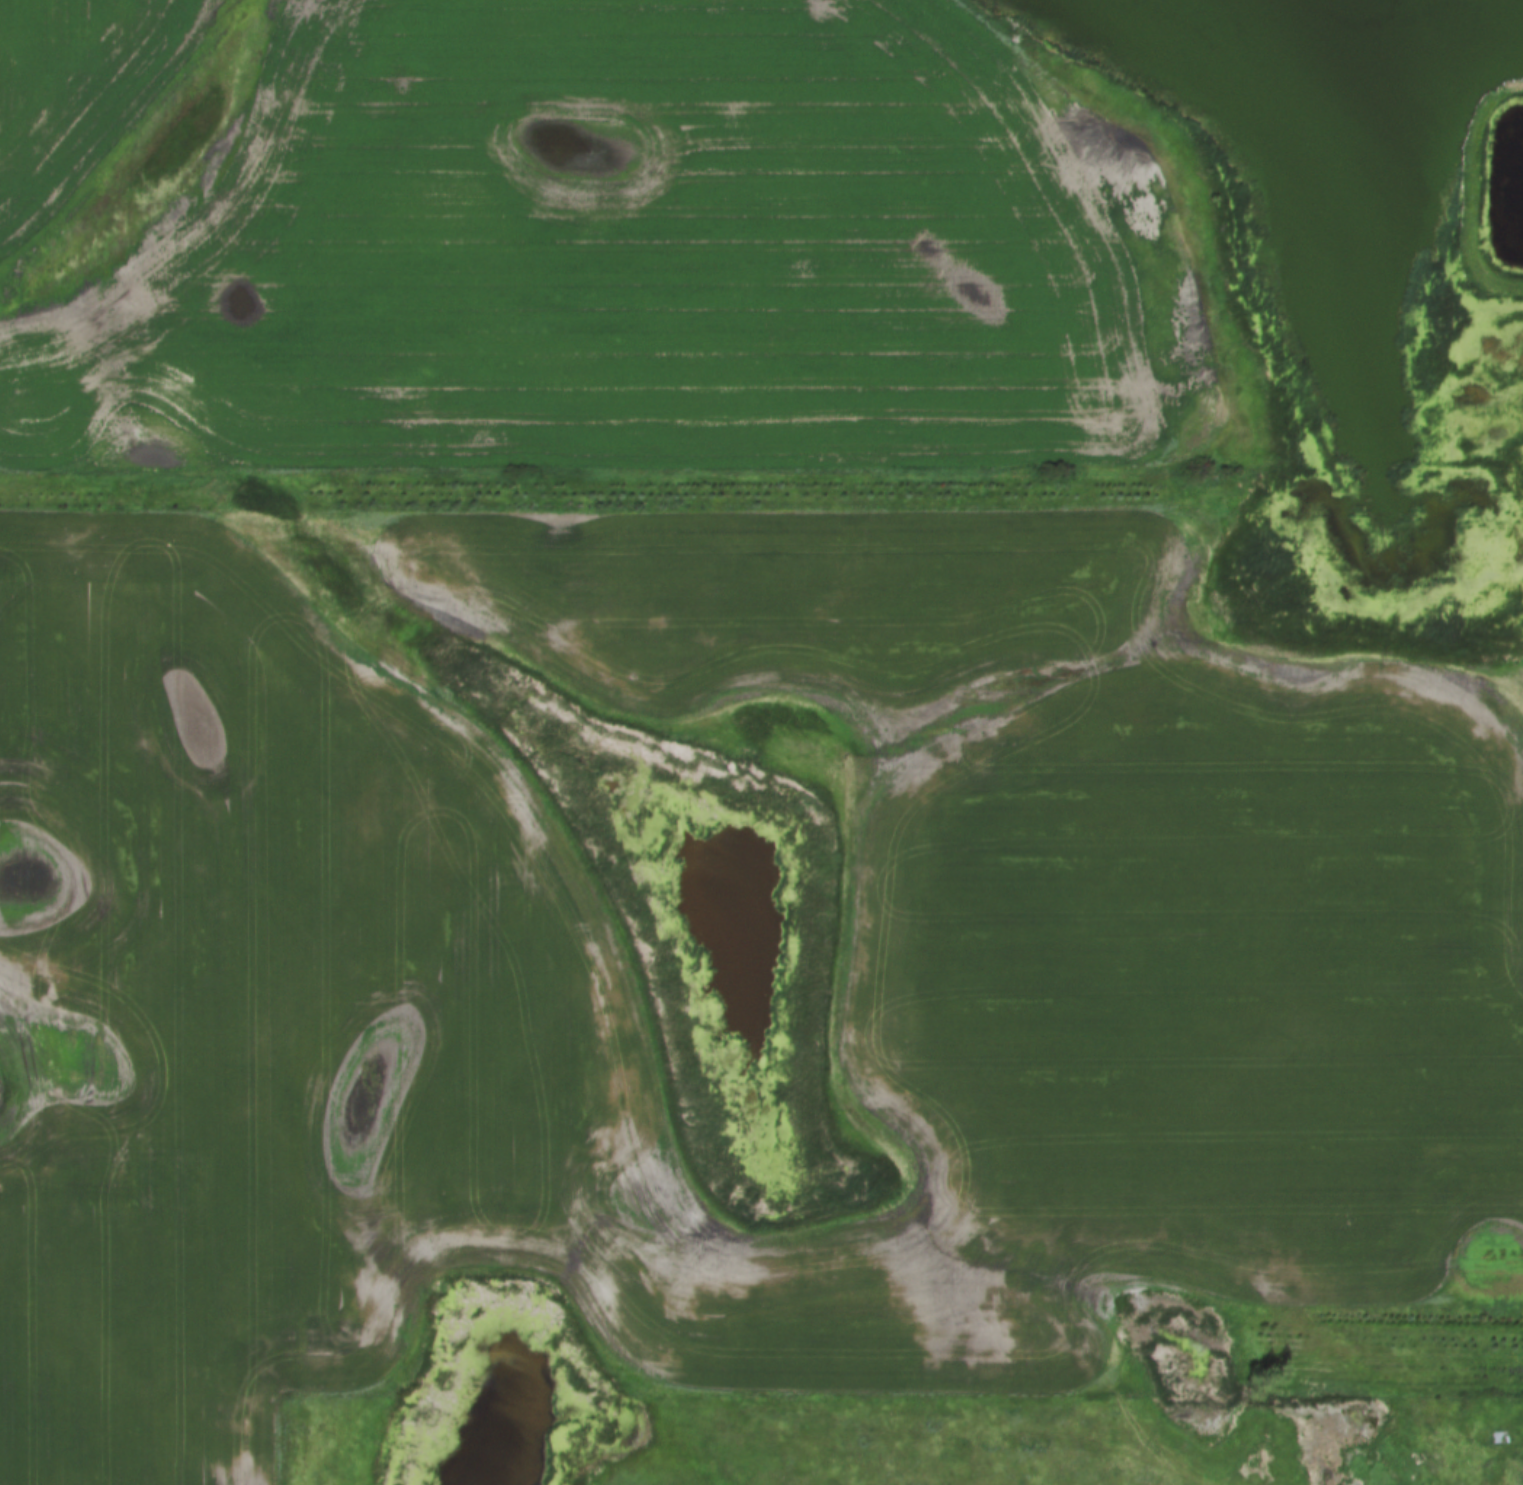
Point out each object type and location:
building: (1504, 1436)

